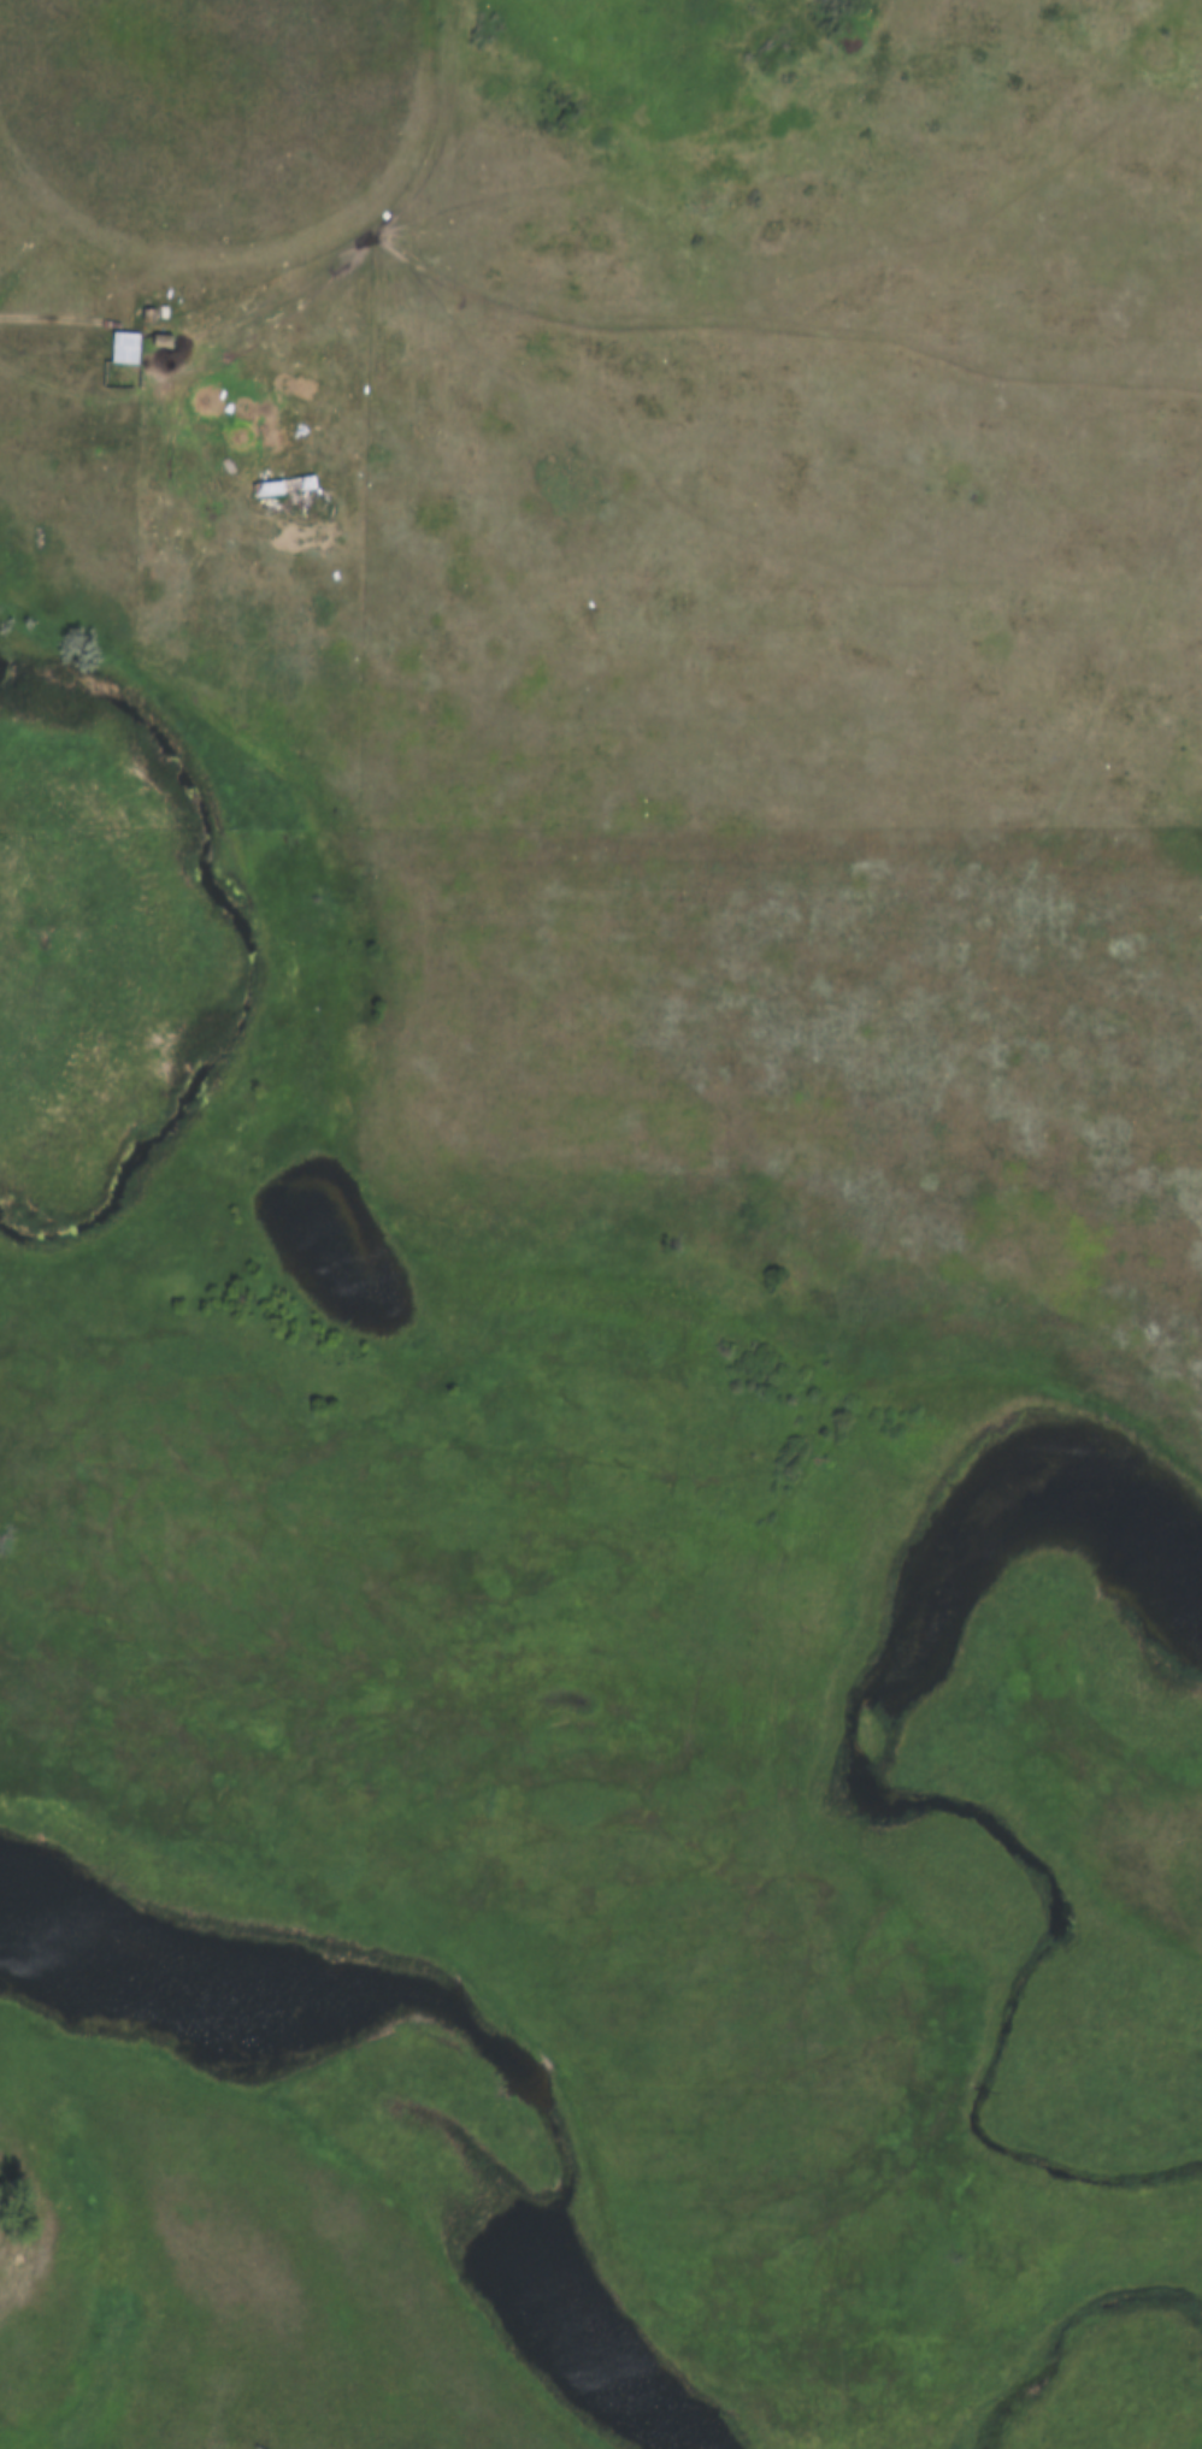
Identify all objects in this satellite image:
track: (379, 131)
building: (169, 291)
building: (124, 346)

